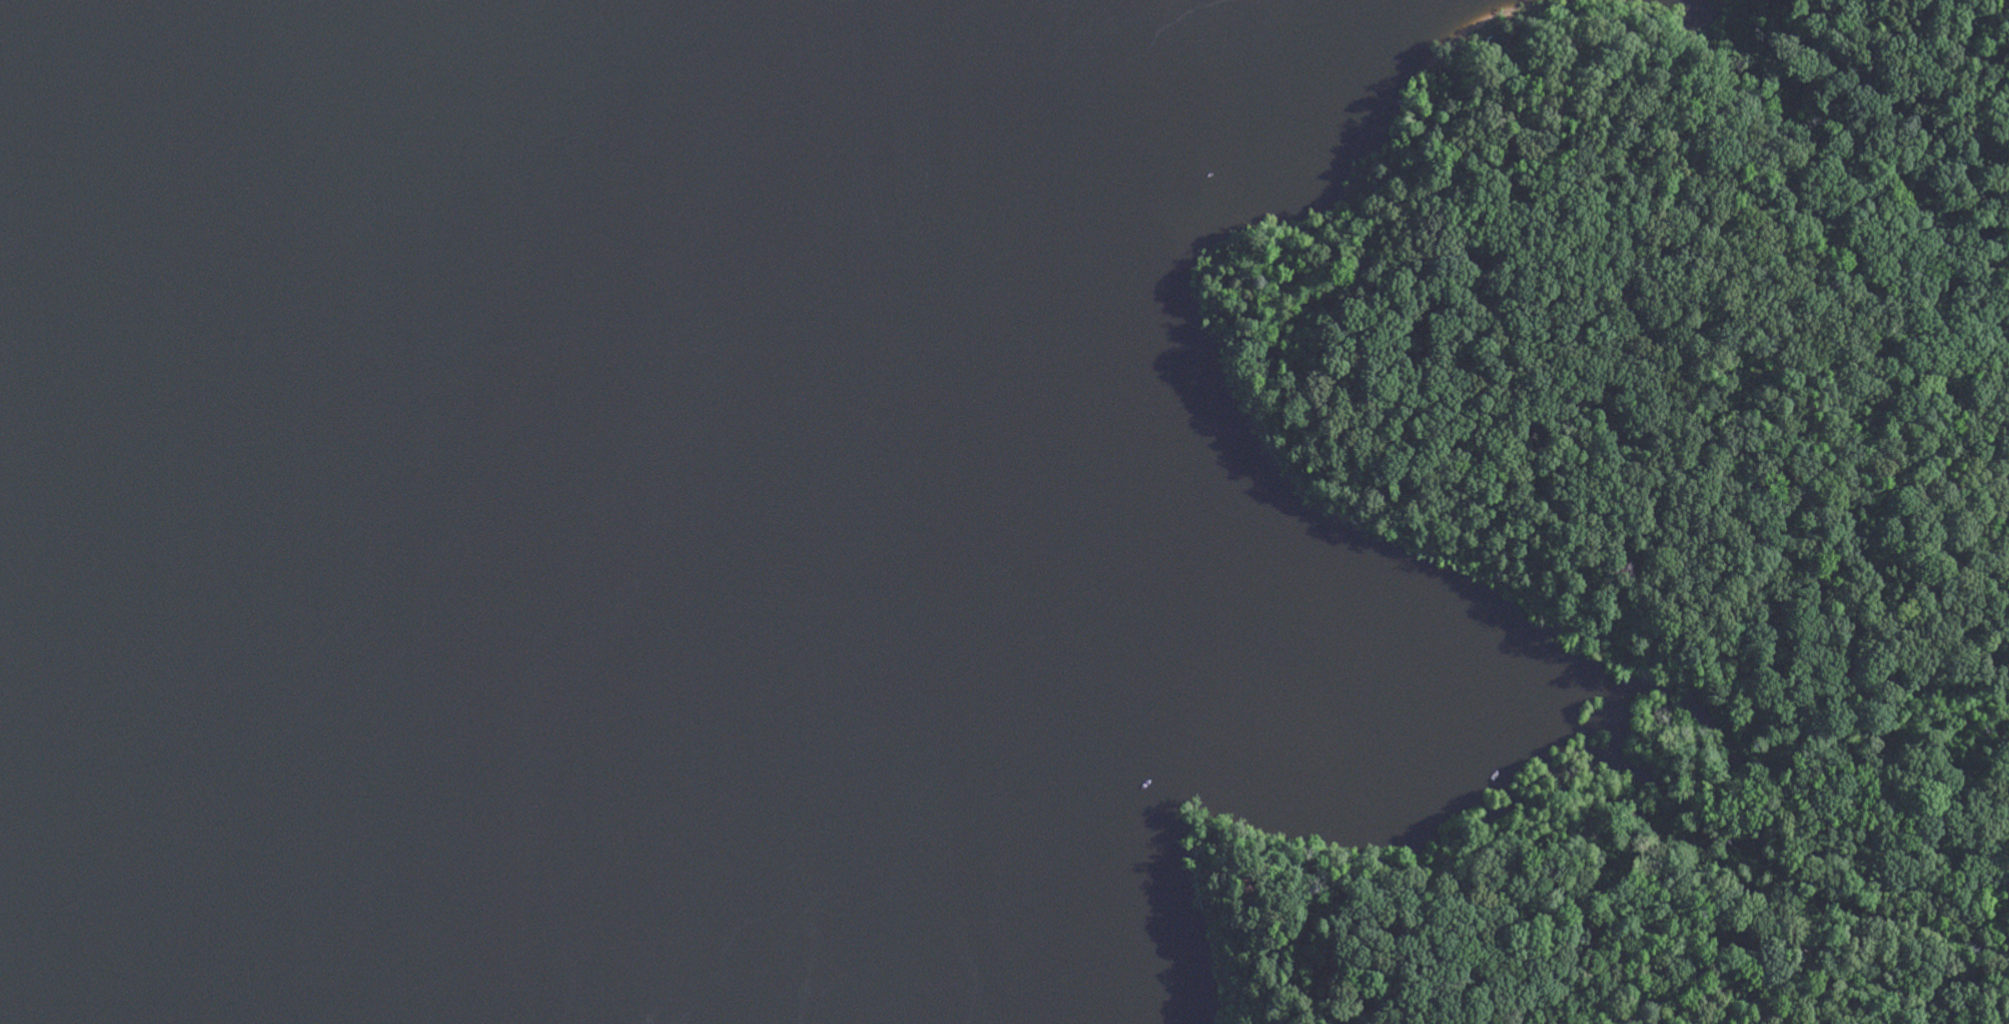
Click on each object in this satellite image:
river: (360, 512)

